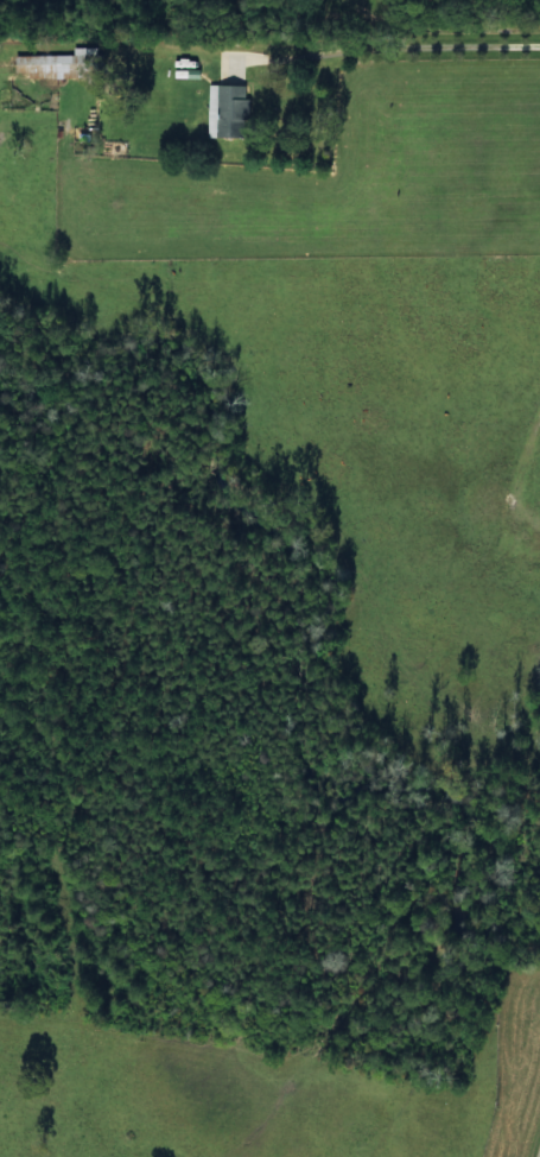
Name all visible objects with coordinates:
building: (62, 63)
building: (227, 109)

